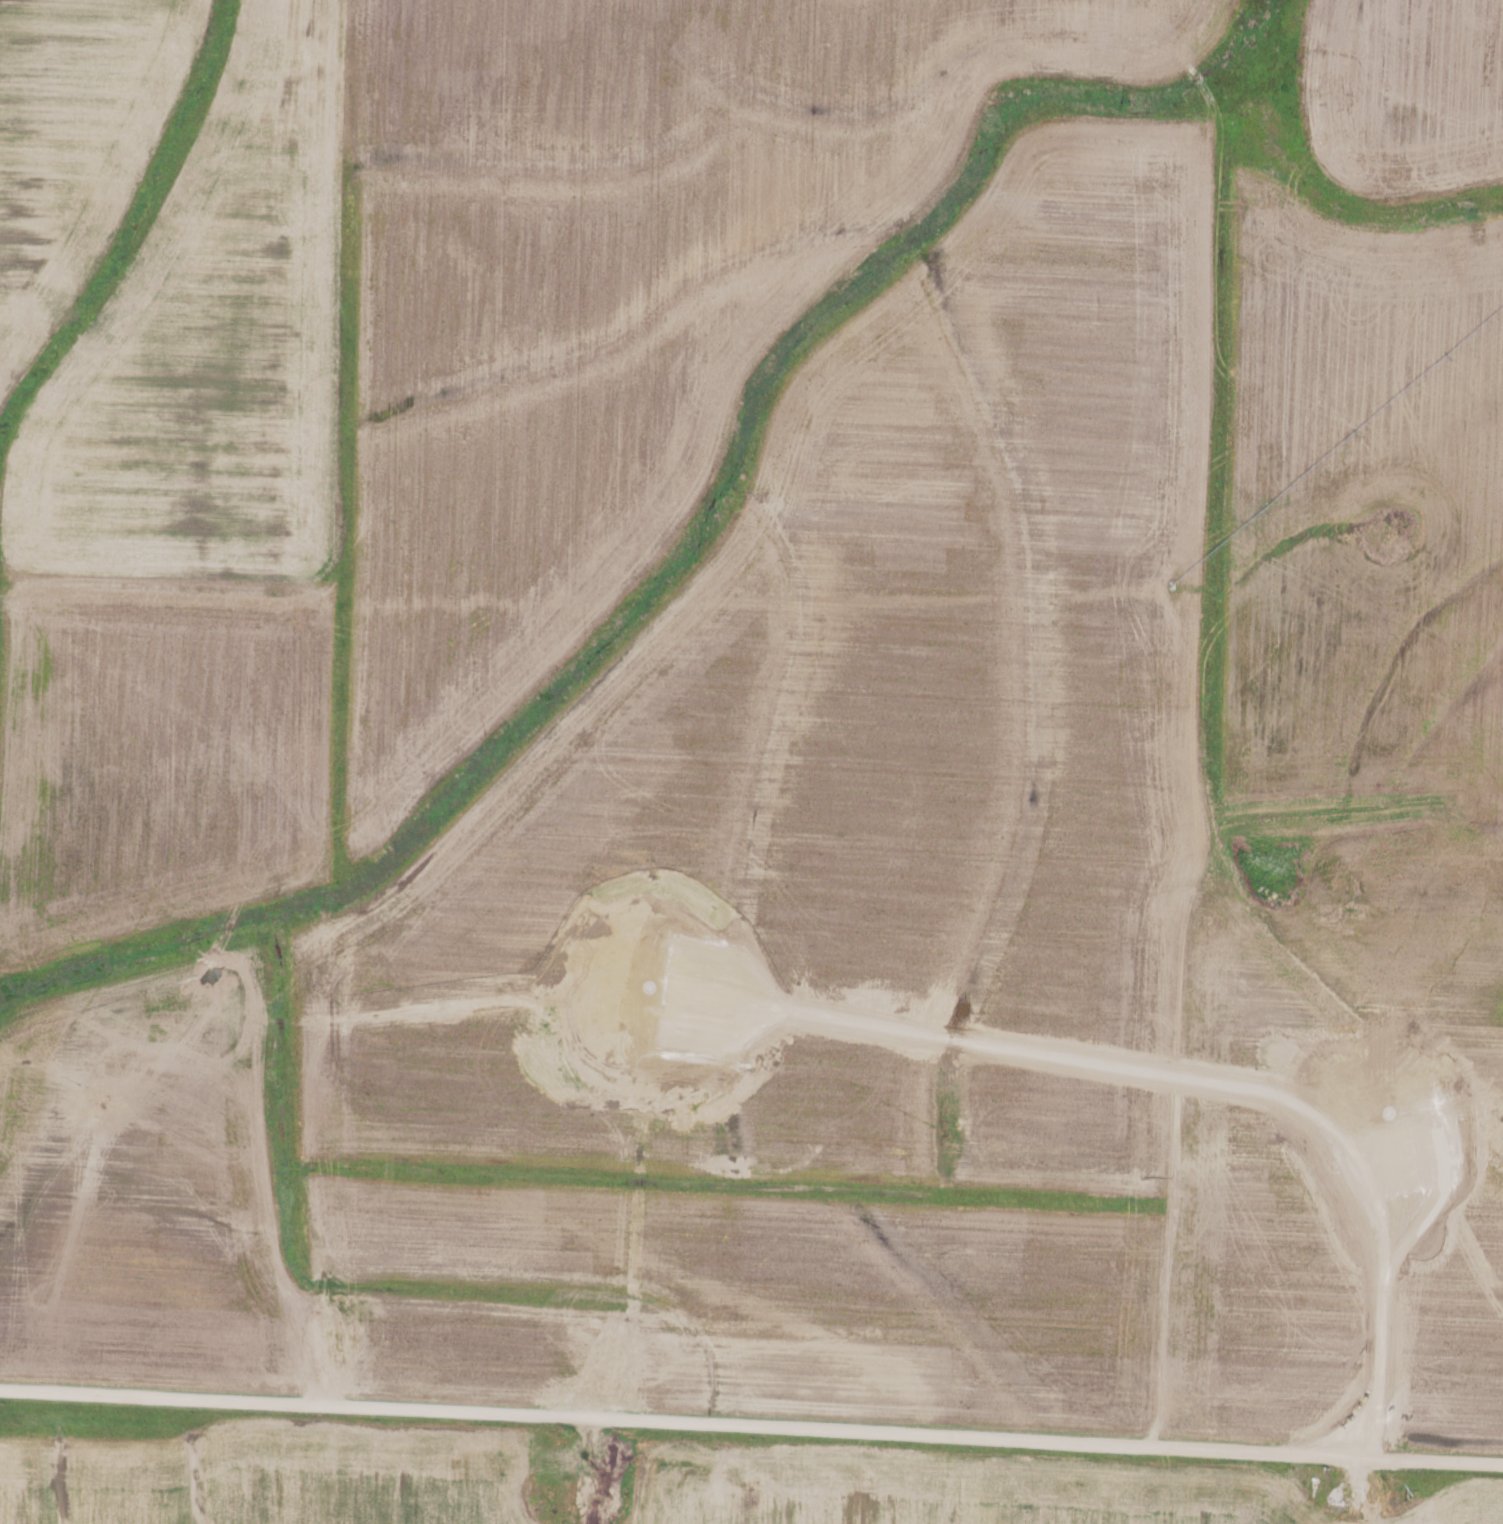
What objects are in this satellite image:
wind turbine: (640, 993)
wind turbine: (1388, 1129)
road: (751, 1425)

